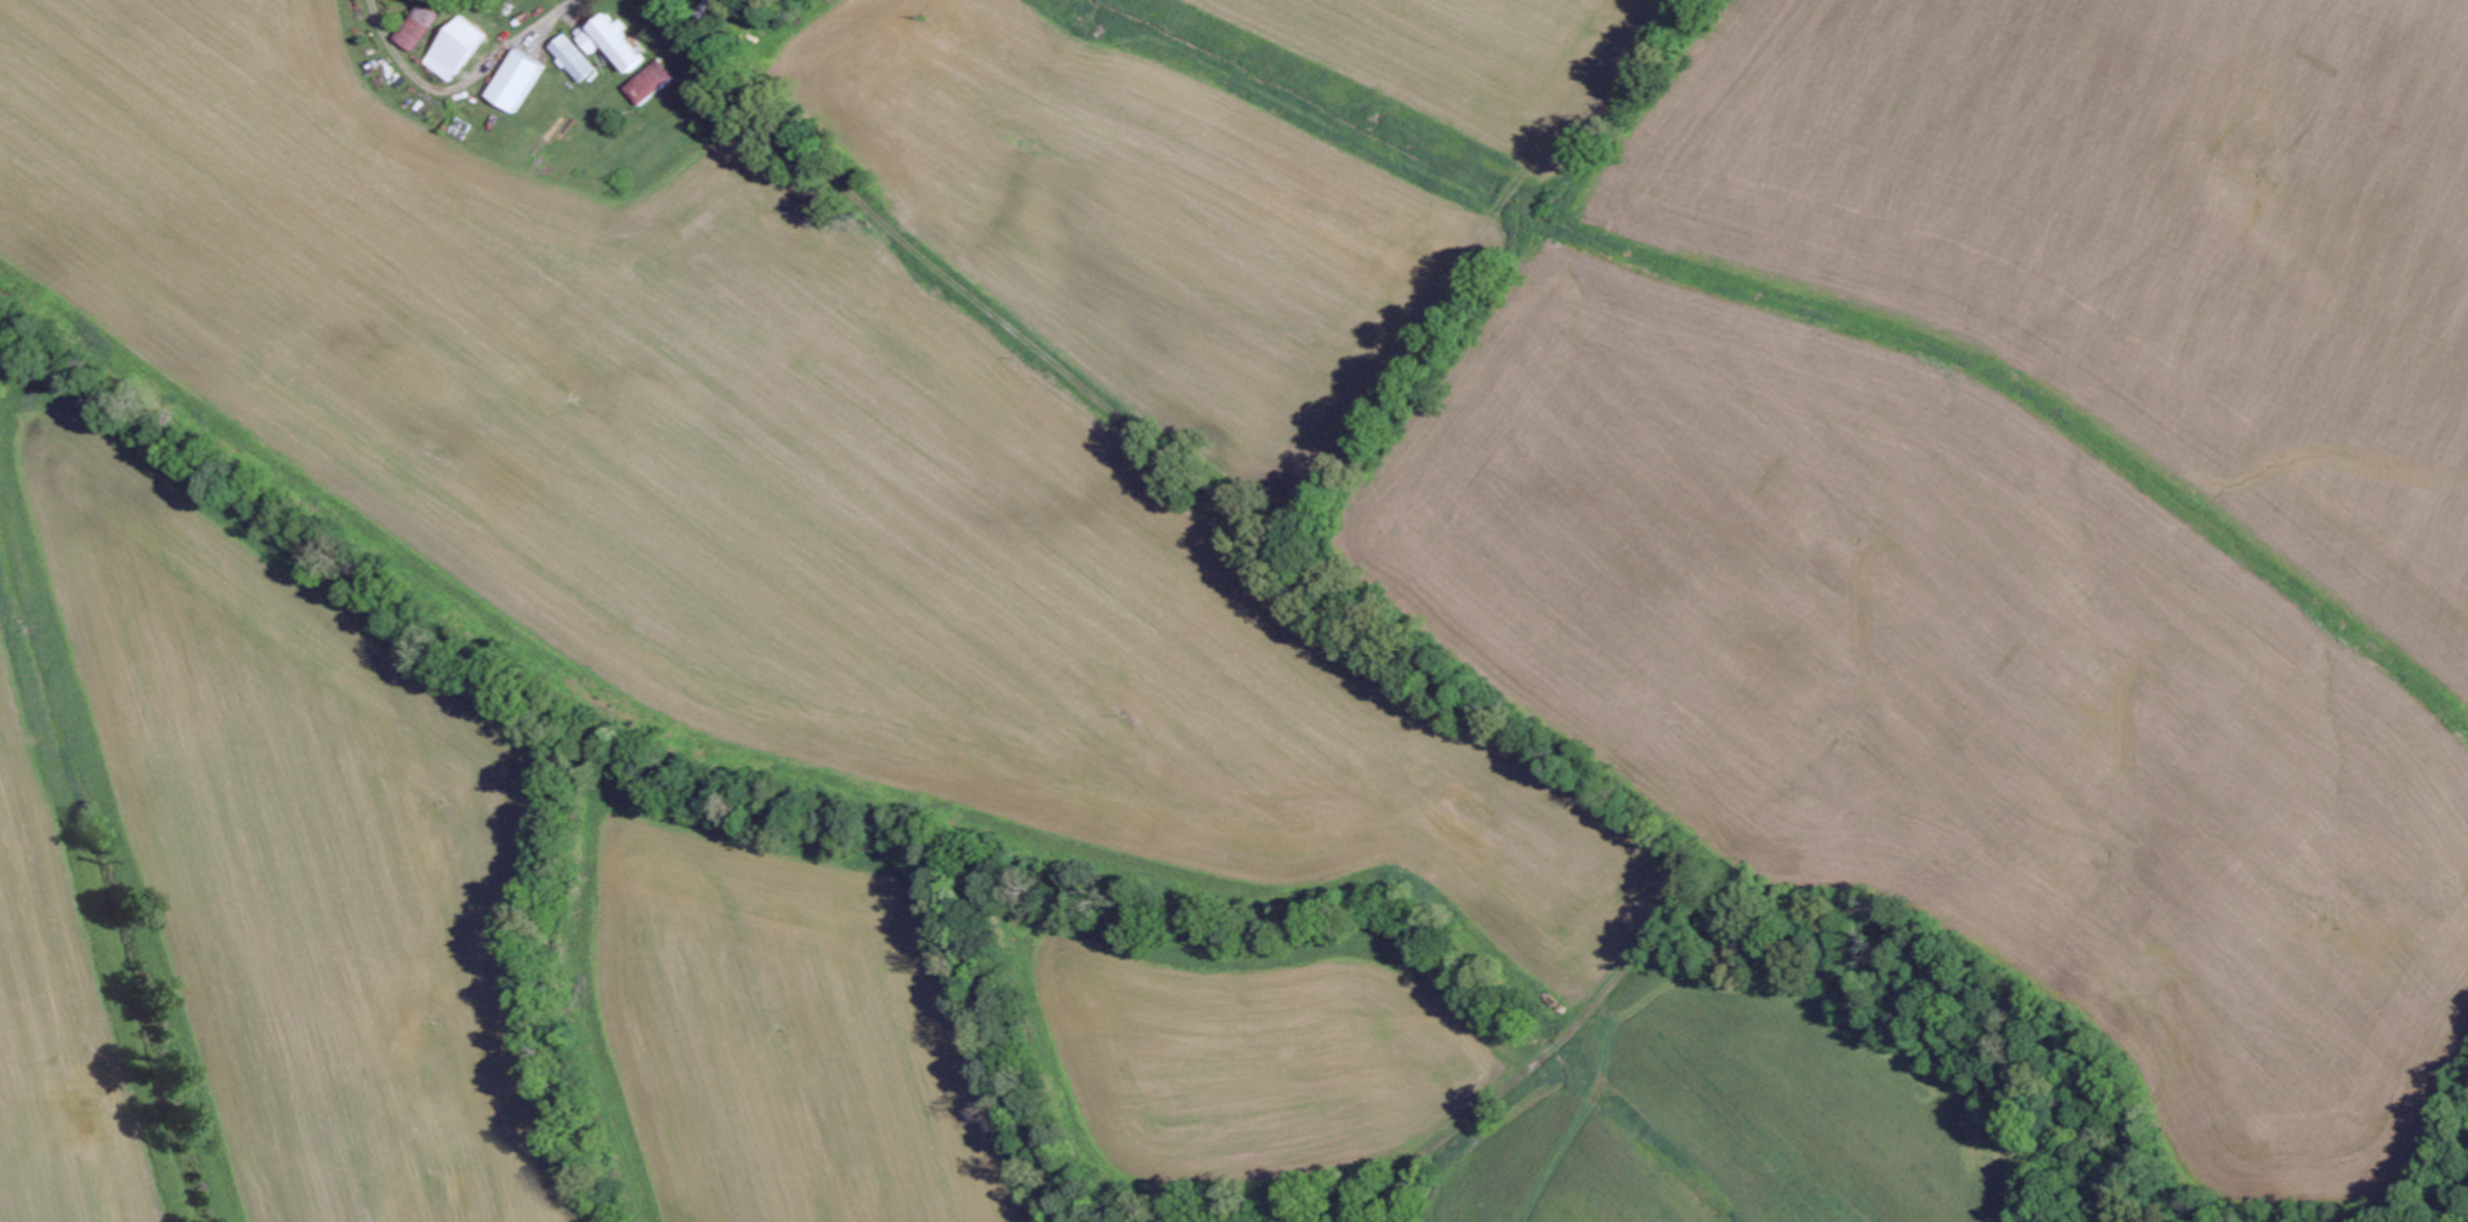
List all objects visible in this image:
building: (615, 41)
building: (459, 47)
building: (579, 57)
building: (520, 80)
road: (1326, 561)

